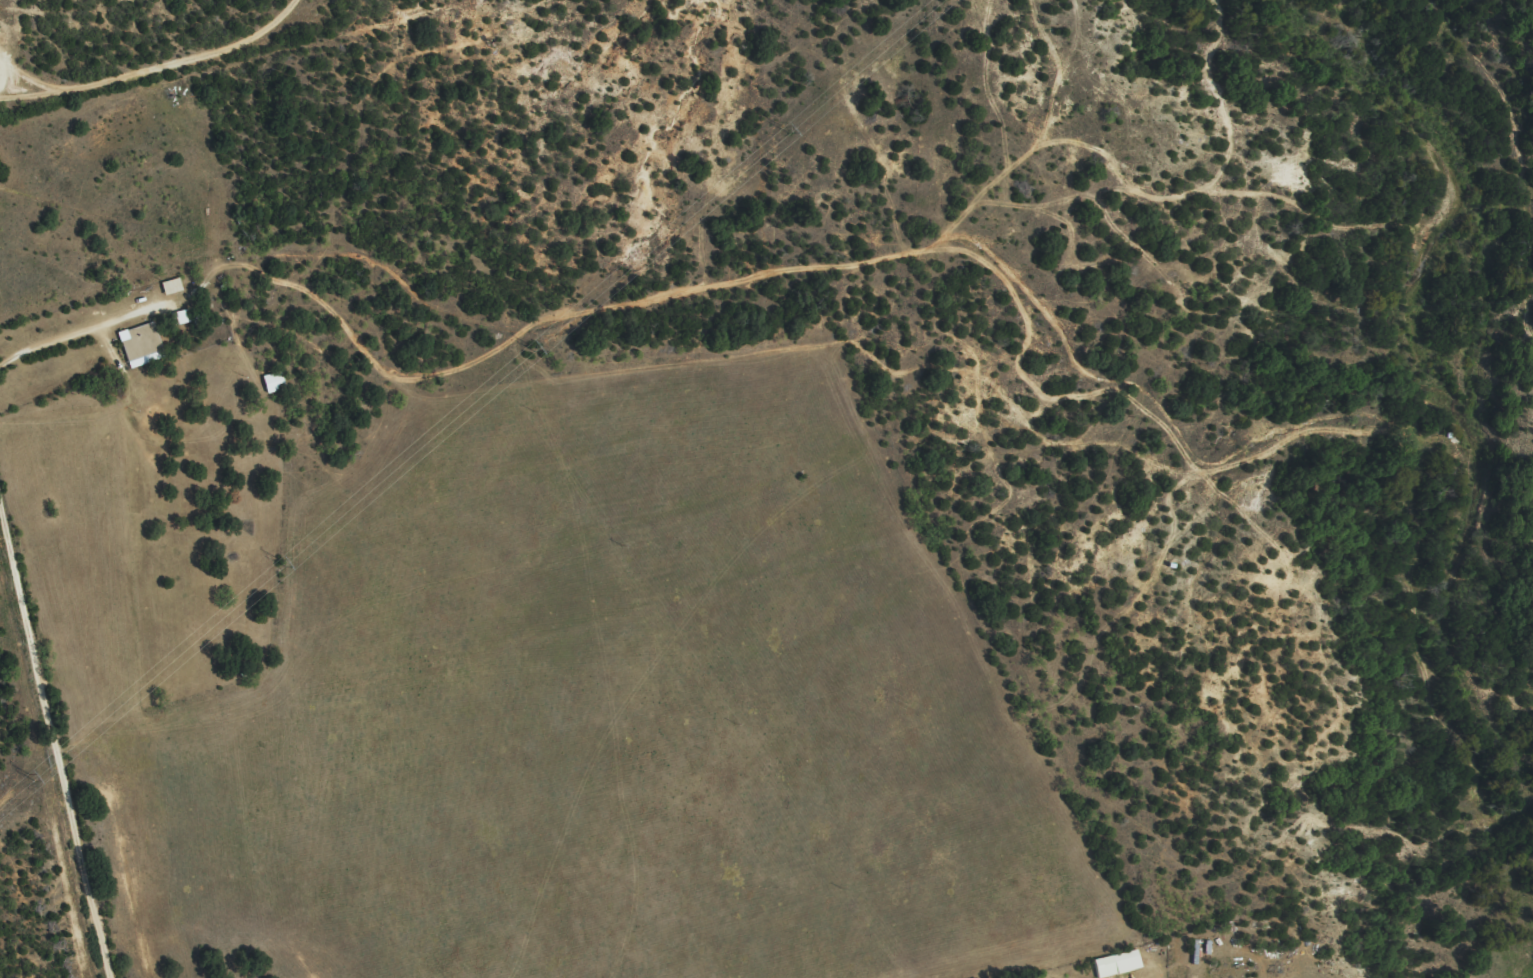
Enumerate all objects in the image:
power tower: (784, 129)
road: (72, 343)
power tower: (531, 348)
power tower: (283, 565)
road: (53, 755)
power tower: (30, 778)
building: (1117, 969)

